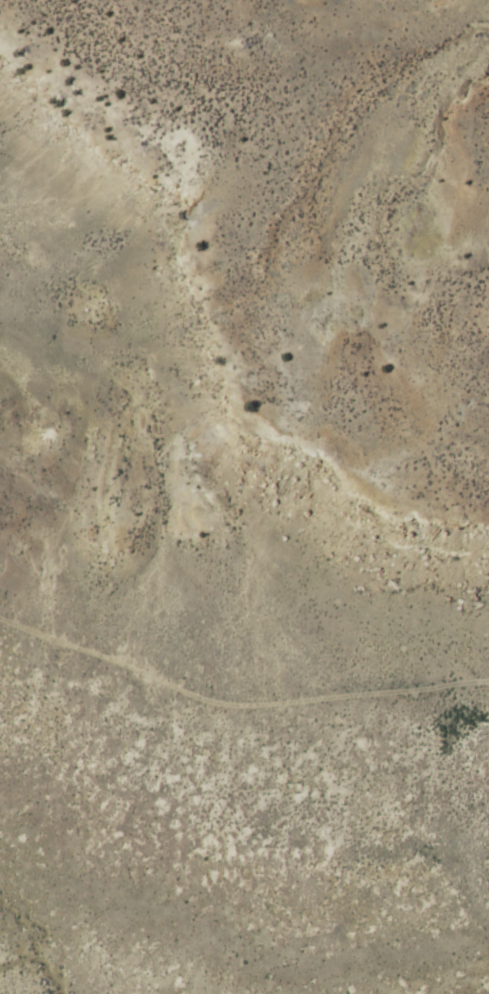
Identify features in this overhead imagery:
road: (98, 653)
road: (340, 697)

